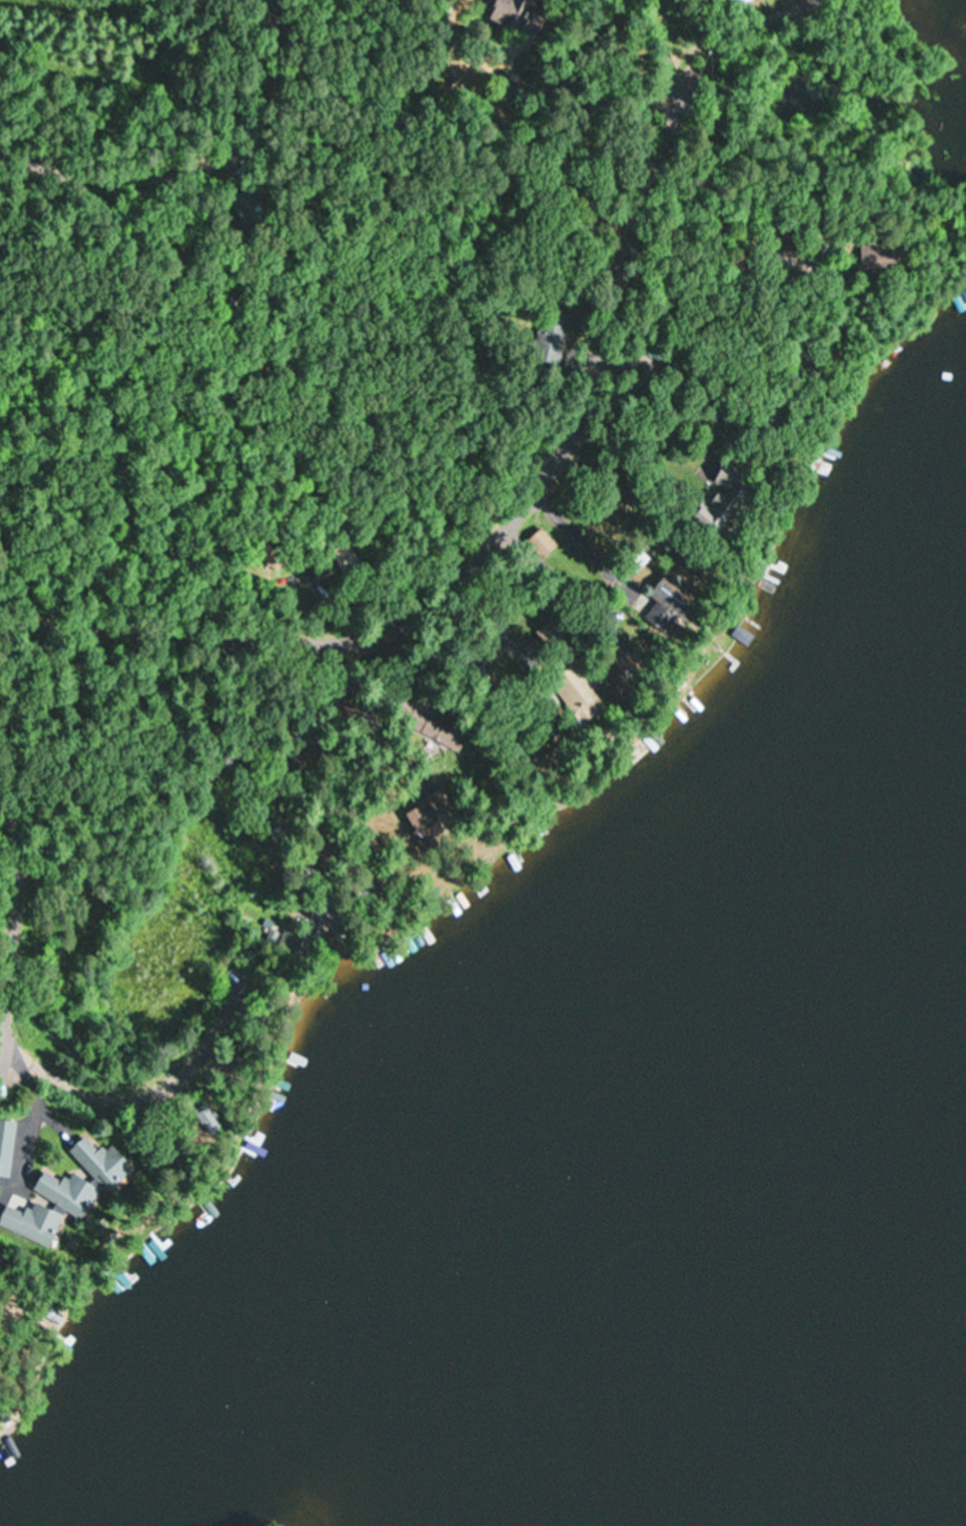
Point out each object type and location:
building: (739, 2)
building: (505, 11)
road: (196, 160)
building: (883, 252)
road: (283, 297)
building: (552, 336)
road: (381, 377)
road: (335, 390)
building: (722, 500)
road: (487, 531)
building: (267, 556)
building: (346, 557)
building: (666, 605)
building: (552, 632)
building: (578, 692)
building: (428, 725)
building: (422, 824)
road: (1, 887)
building: (293, 939)
building: (222, 1069)
building: (5, 1146)
building: (100, 1163)
building: (66, 1193)
building: (31, 1223)
river: (902, 1434)

